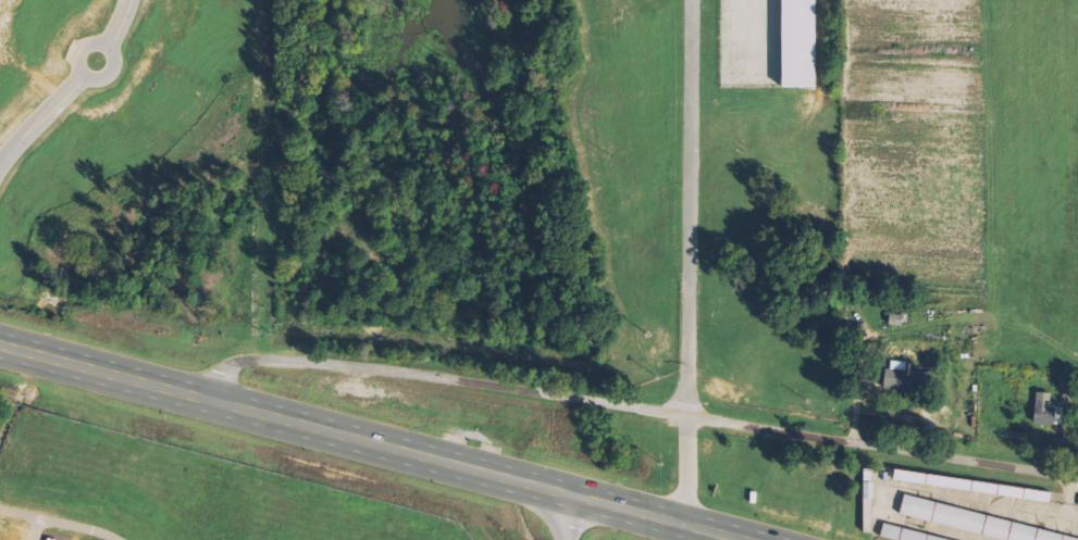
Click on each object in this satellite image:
building: (802, 43)
road: (69, 84)
road: (686, 261)
building: (904, 374)
road: (634, 406)
building: (1049, 410)
road: (372, 442)
building: (974, 486)
airport: (169, 492)
road: (568, 516)
building: (977, 523)

